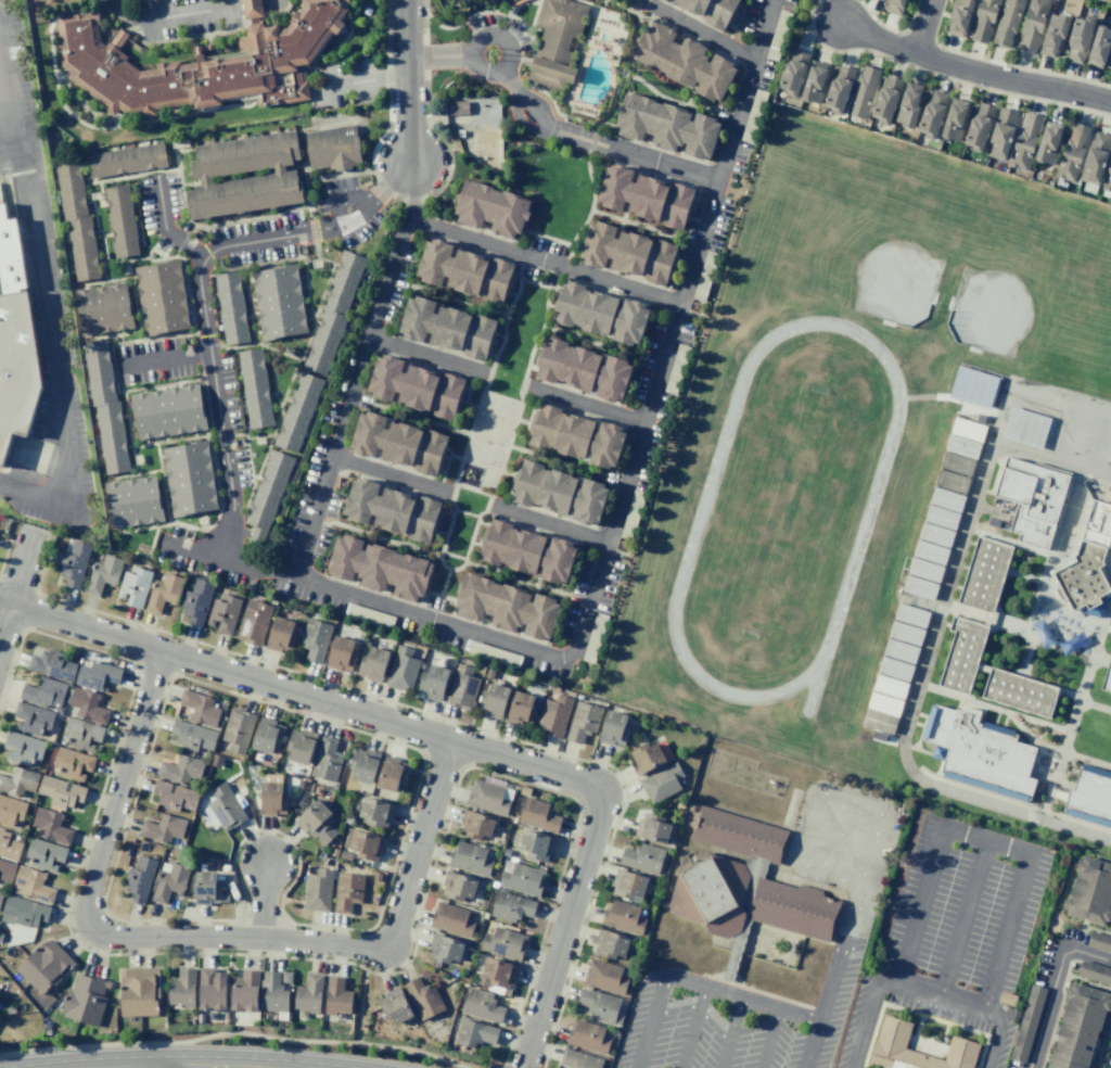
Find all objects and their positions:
road: (227, 3)
road: (240, 4)
road: (864, 5)
building: (894, 7)
building: (253, 8)
building: (711, 11)
road: (810, 12)
building: (959, 16)
road: (214, 18)
building: (983, 18)
building: (1007, 21)
building: (1032, 24)
road: (922, 26)
road: (699, 31)
road: (766, 31)
road: (899, 31)
building: (1052, 34)
road: (502, 38)
building: (1078, 38)
road: (1, 40)
building: (557, 41)
building: (1099, 47)
building: (684, 60)
road: (440, 62)
building: (201, 65)
road: (1013, 66)
building: (1110, 69)
road: (972, 71)
parking lot: (22, 72)
building: (793, 72)
road: (621, 74)
road: (361, 80)
road: (954, 80)
road: (410, 81)
building: (815, 81)
building: (839, 88)
building: (863, 92)
building: (886, 99)
road: (677, 101)
building: (908, 104)
building: (472, 111)
building: (932, 113)
building: (954, 119)
road: (738, 124)
building: (672, 126)
building: (979, 126)
building: (1000, 133)
building: (1024, 141)
building: (1048, 143)
road: (598, 144)
building: (330, 145)
building: (244, 152)
building: (1071, 152)
road: (9, 157)
building: (1095, 157)
building: (125, 160)
building: (1108, 179)
road: (412, 190)
building: (242, 194)
building: (649, 196)
building: (493, 209)
road: (586, 218)
park: (850, 218)
building: (77, 219)
building: (119, 220)
road: (646, 225)
road: (163, 227)
road: (699, 243)
building: (631, 253)
road: (520, 265)
building: (467, 269)
road: (519, 280)
park: (1037, 282)
road: (199, 289)
building: (162, 296)
building: (276, 301)
road: (42, 302)
building: (230, 307)
building: (104, 308)
building: (334, 310)
building: (604, 314)
building: (449, 328)
parking lot: (60, 339)
park: (518, 342)
road: (601, 344)
road: (427, 353)
building: (18, 356)
road: (165, 359)
building: (588, 369)
road: (485, 371)
building: (255, 386)
building: (419, 386)
building: (973, 386)
road: (528, 387)
park: (1108, 387)
road: (953, 398)
building: (105, 406)
road: (588, 406)
building: (167, 411)
building: (297, 412)
road: (411, 415)
park: (1081, 425)
building: (1023, 428)
building: (967, 429)
park: (489, 432)
building: (580, 436)
park: (1104, 438)
building: (400, 444)
building: (962, 446)
road: (335, 455)
road: (1051, 458)
building: (957, 463)
road: (564, 465)
road: (481, 466)
road: (390, 473)
building: (190, 478)
building: (952, 481)
building: (268, 491)
road: (472, 491)
road: (447, 492)
building: (564, 493)
road: (491, 495)
building: (946, 499)
building: (1032, 499)
park: (469, 500)
building: (133, 501)
road: (452, 507)
road: (493, 507)
building: (393, 510)
track: (783, 511)
track: (866, 512)
road: (467, 514)
building: (941, 517)
road: (550, 524)
building: (935, 534)
park: (460, 535)
road: (7, 545)
building: (930, 551)
building: (532, 552)
road: (451, 556)
road: (230, 559)
building: (73, 563)
building: (1088, 564)
road: (1107, 564)
building: (380, 567)
road: (1109, 568)
building: (924, 570)
building: (102, 574)
building: (984, 574)
road: (16, 583)
building: (125, 587)
building: (919, 587)
building: (164, 592)
building: (196, 601)
building: (511, 608)
building: (215, 614)
building: (911, 615)
building: (254, 621)
road: (1009, 626)
building: (905, 633)
building: (280, 635)
building: (315, 639)
building: (366, 643)
road: (1063, 643)
building: (901, 650)
building: (340, 653)
building: (490, 653)
building: (962, 654)
building: (52, 664)
building: (372, 664)
building: (401, 669)
building: (478, 669)
building: (895, 669)
building: (488, 674)
building: (97, 675)
road: (920, 677)
building: (1107, 677)
road: (320, 681)
building: (433, 682)
building: (890, 686)
building: (548, 687)
building: (461, 688)
building: (554, 689)
building: (43, 692)
building: (570, 692)
building: (1019, 692)
building: (578, 697)
building: (493, 699)
road: (1076, 701)
building: (884, 704)
building: (87, 705)
road: (1094, 705)
building: (199, 708)
road: (992, 708)
building: (521, 710)
building: (553, 715)
building: (42, 717)
road: (122, 719)
building: (582, 721)
building: (878, 721)
building: (613, 728)
building: (238, 729)
building: (71, 734)
building: (192, 735)
building: (267, 735)
road: (436, 736)
road: (1030, 740)
road: (397, 743)
building: (298, 745)
building: (34, 748)
building: (979, 751)
building: (648, 755)
building: (325, 759)
building: (215, 760)
building: (61, 763)
building: (362, 764)
building: (180, 768)
building: (392, 773)
road: (1050, 779)
building: (18, 780)
building: (661, 783)
building: (298, 784)
building: (333, 786)
road: (1051, 786)
building: (525, 790)
building: (60, 791)
road: (821, 791)
road: (562, 793)
building: (271, 794)
building: (173, 796)
building: (488, 797)
building: (1089, 797)
building: (240, 800)
building: (290, 802)
building: (225, 808)
building: (11, 811)
building: (375, 811)
building: (537, 814)
building: (316, 821)
building: (475, 824)
building: (51, 825)
building: (162, 827)
building: (652, 828)
road: (834, 837)
road: (968, 837)
building: (363, 843)
building: (535, 844)
building: (8, 847)
building: (333, 851)
building: (505, 851)
building: (34, 854)
building: (324, 854)
building: (345, 855)
road: (1097, 855)
building: (641, 857)
building: (468, 859)
building: (324, 862)
building: (5, 870)
building: (375, 876)
building: (139, 878)
building: (521, 878)
building: (169, 881)
building: (33, 885)
building: (628, 885)
building: (743, 885)
building: (457, 886)
building: (205, 888)
building: (317, 890)
building: (346, 891)
building: (1091, 892)
building: (0, 895)
road: (263, 901)
building: (511, 906)
parking lot: (965, 908)
building: (22, 911)
building: (622, 916)
road: (962, 918)
road: (189, 919)
building: (450, 919)
road: (1088, 929)
road: (1110, 933)
road: (200, 937)
road: (578, 940)
building: (503, 942)
building: (1099, 942)
building: (610, 943)
building: (444, 949)
road: (260, 954)
building: (44, 966)
building: (1095, 972)
building: (496, 975)
building: (604, 976)
building: (285, 977)
road: (831, 977)
road: (695, 984)
road: (1051, 986)
building: (182, 988)
building: (210, 989)
building: (244, 991)
building: (138, 992)
building: (273, 994)
building: (308, 995)
road: (938, 995)
building: (336, 996)
building: (85, 999)
building: (423, 999)
road: (1059, 999)
building: (599, 1004)
road: (359, 1005)
building: (482, 1005)
building: (394, 1006)
building: (10, 1009)
building: (210, 1015)
building: (200, 1018)
building: (193, 1020)
parking lot: (729, 1022)
building: (1026, 1022)
road: (691, 1028)
building: (1077, 1028)
road: (233, 1032)
road: (729, 1032)
building: (473, 1033)
building: (587, 1035)
road: (768, 1038)
building: (889, 1042)
road: (1104, 1046)
building: (578, 1059)
road: (502, 1065)

